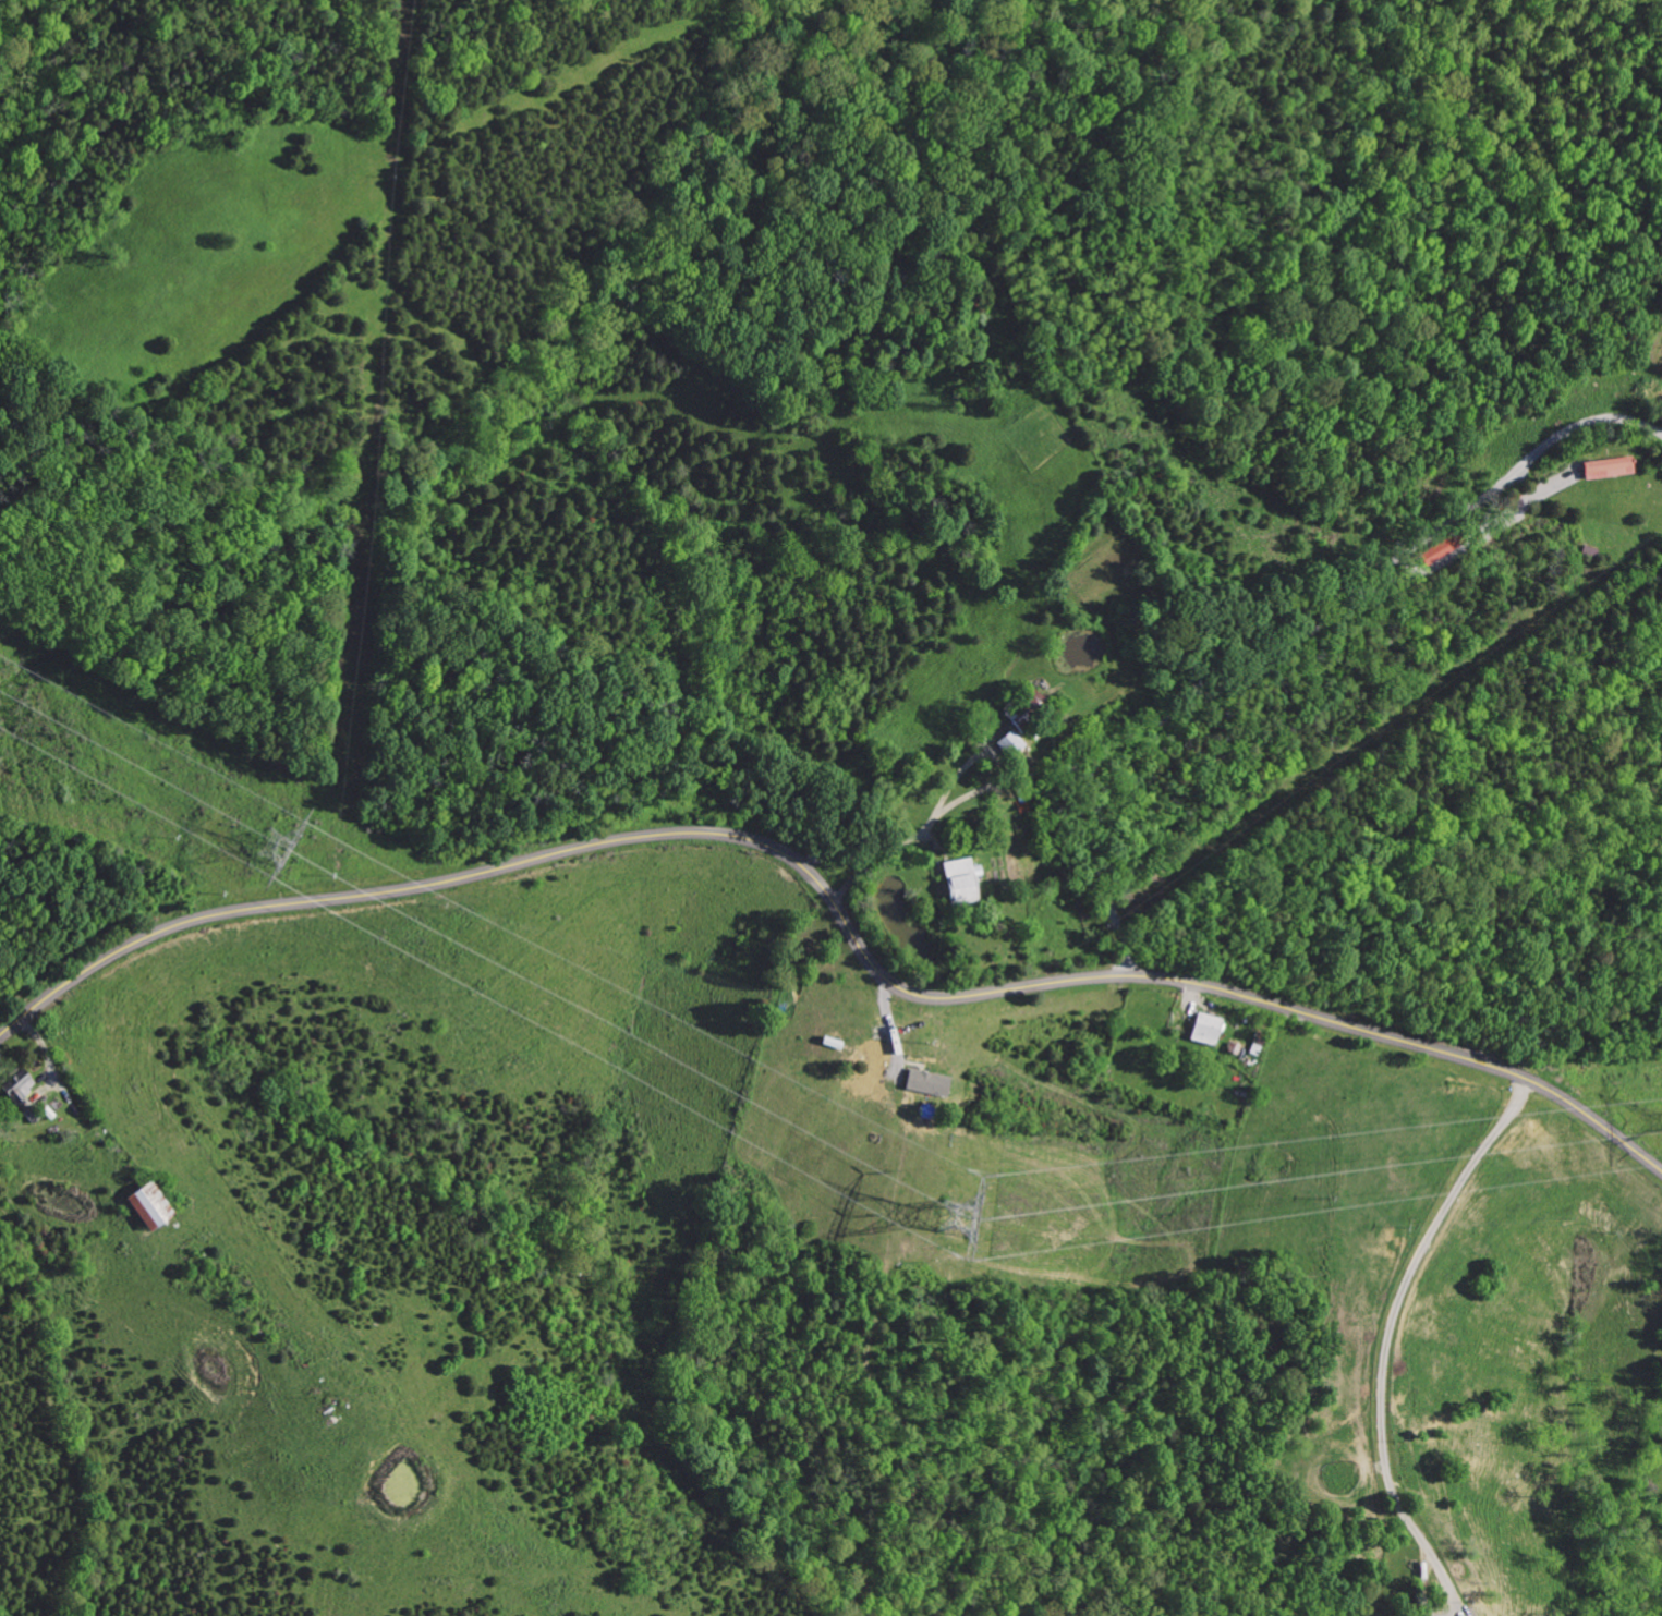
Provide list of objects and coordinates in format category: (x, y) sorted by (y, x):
building: (1606, 469)
road: (1297, 643)
building: (1008, 742)
road: (930, 826)
road: (836, 858)
power tower: (294, 861)
road: (851, 876)
building: (957, 878)
road: (838, 910)
building: (1204, 1028)
building: (925, 1081)
building: (16, 1085)
road: (82, 1102)
building: (145, 1205)
power tower: (970, 1228)
road: (1386, 1339)

